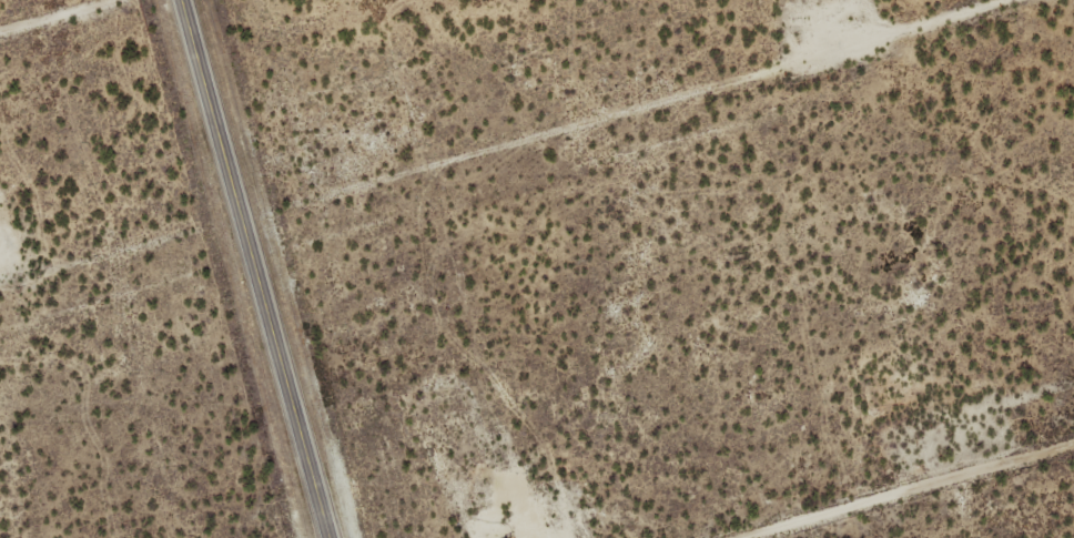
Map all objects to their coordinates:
road: (43, 12)
road: (501, 139)
road: (254, 268)
road: (898, 488)

